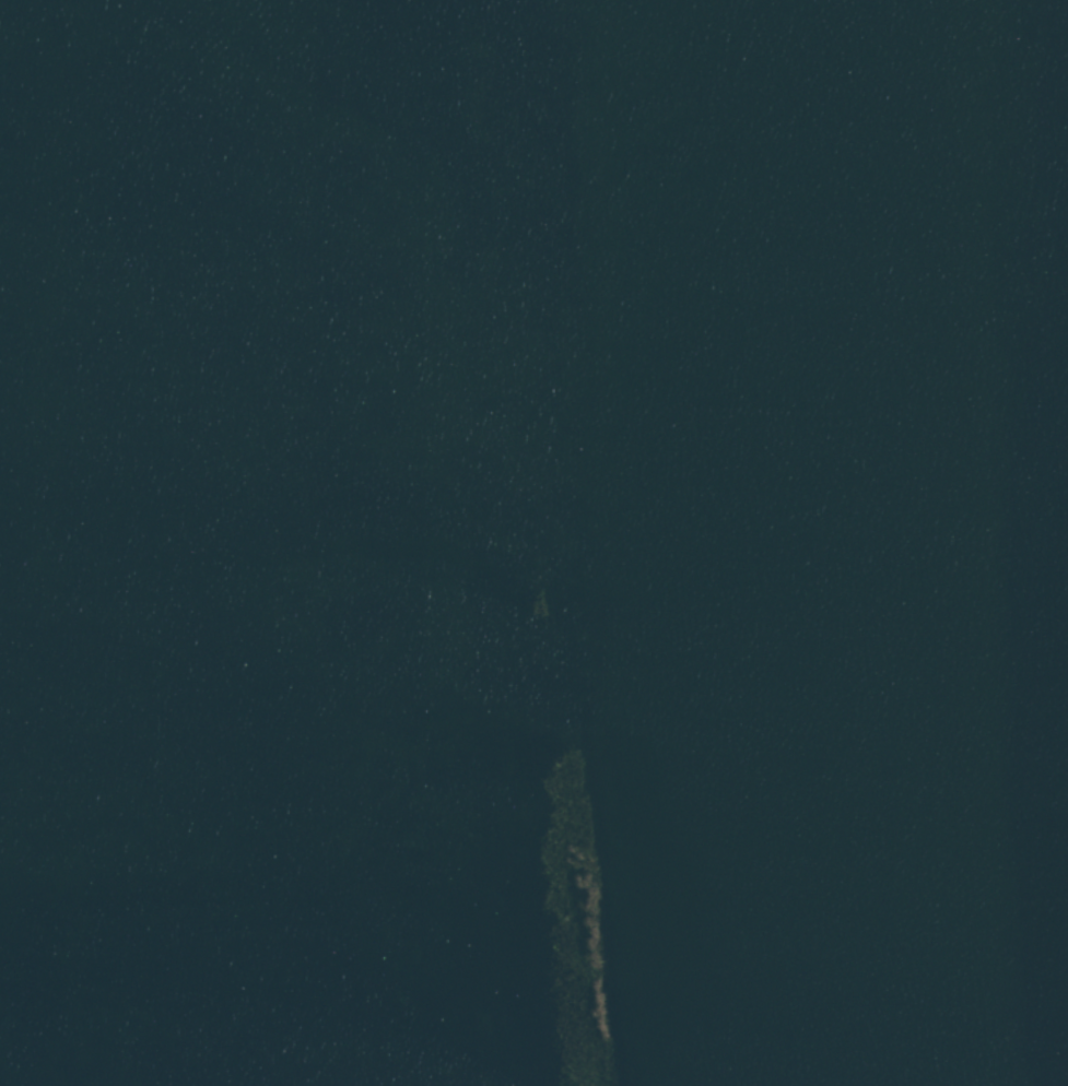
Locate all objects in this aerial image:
river: (858, 542)

